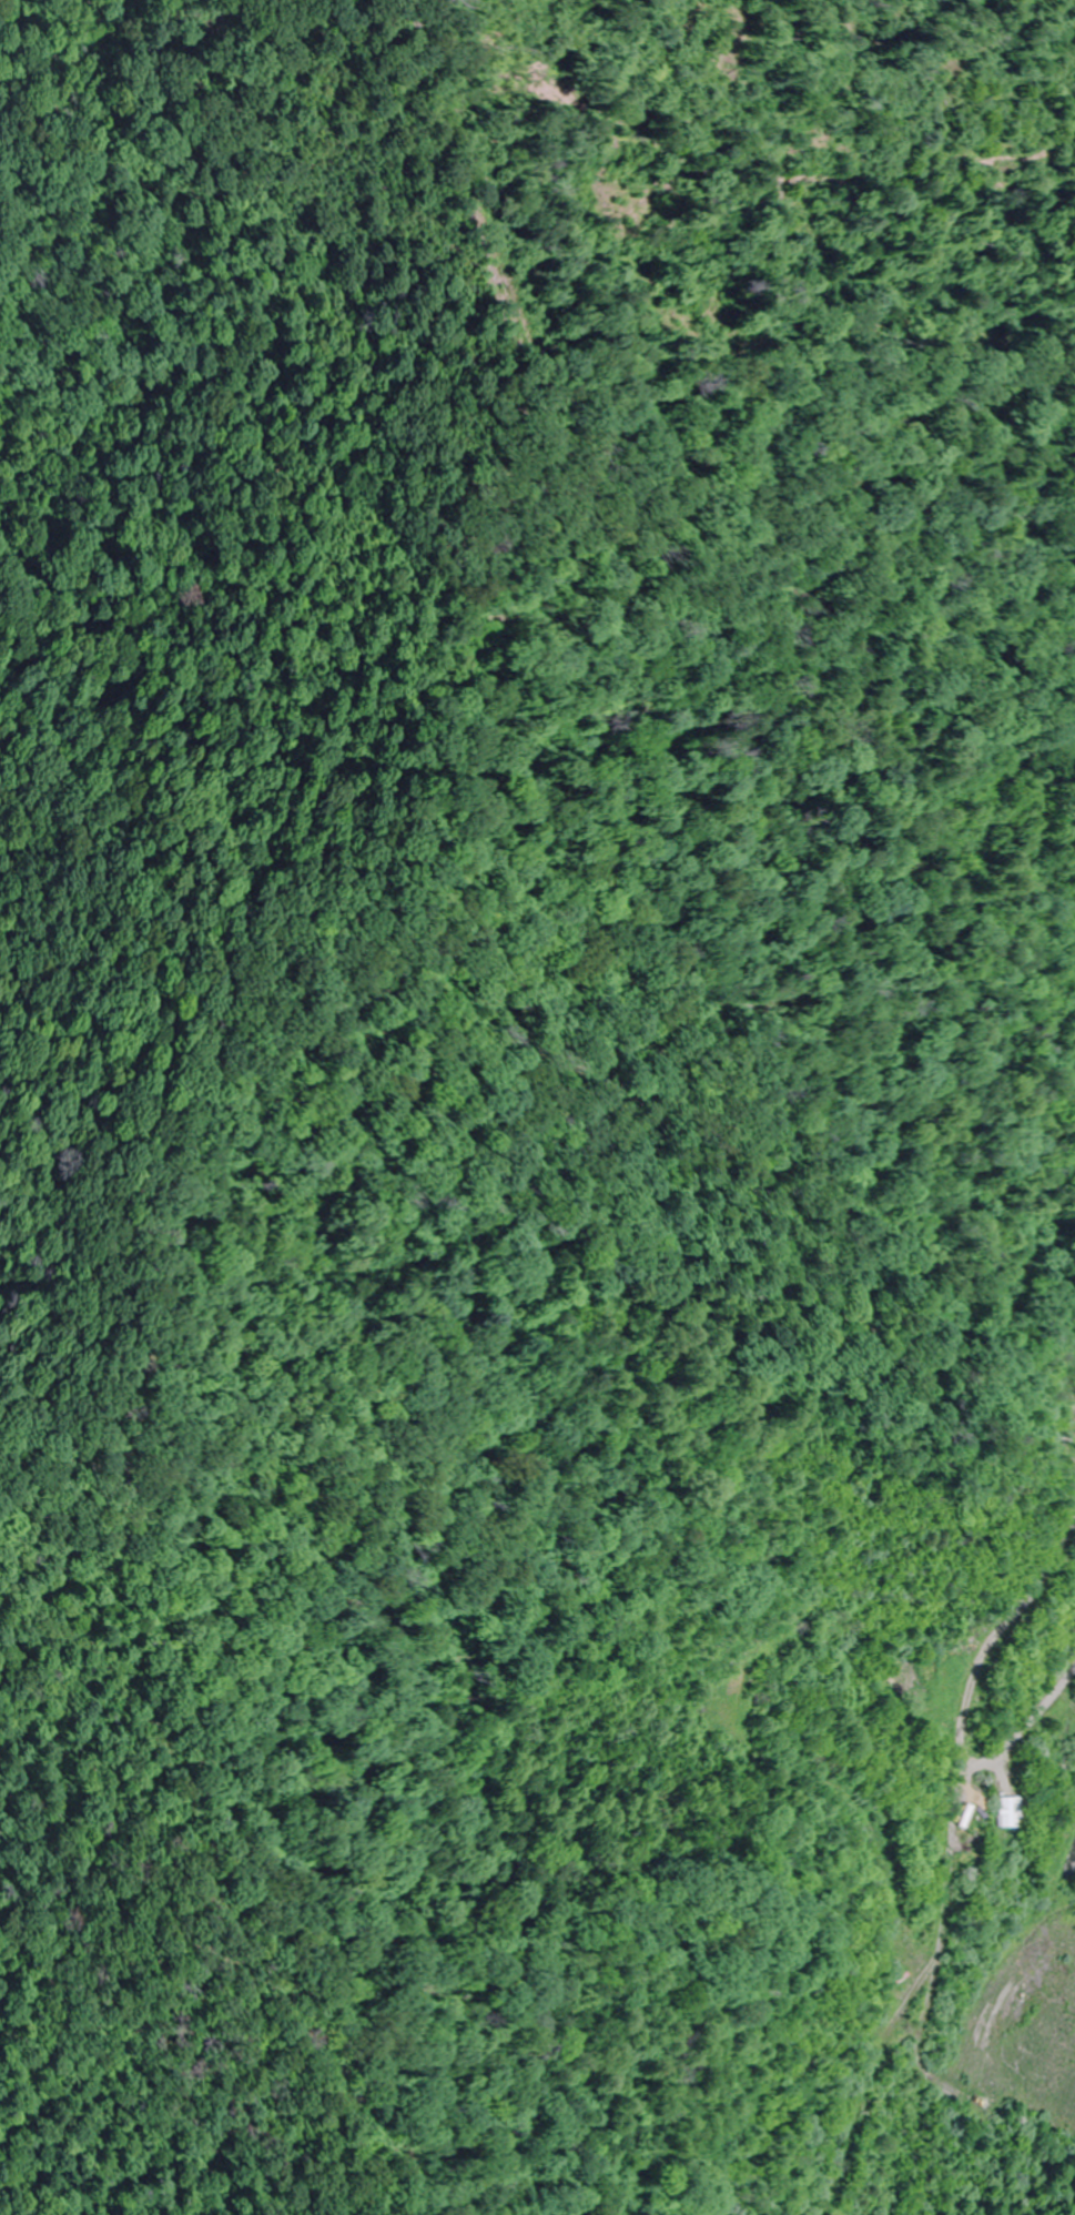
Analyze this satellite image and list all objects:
road: (1045, 1707)
building: (1010, 1812)

